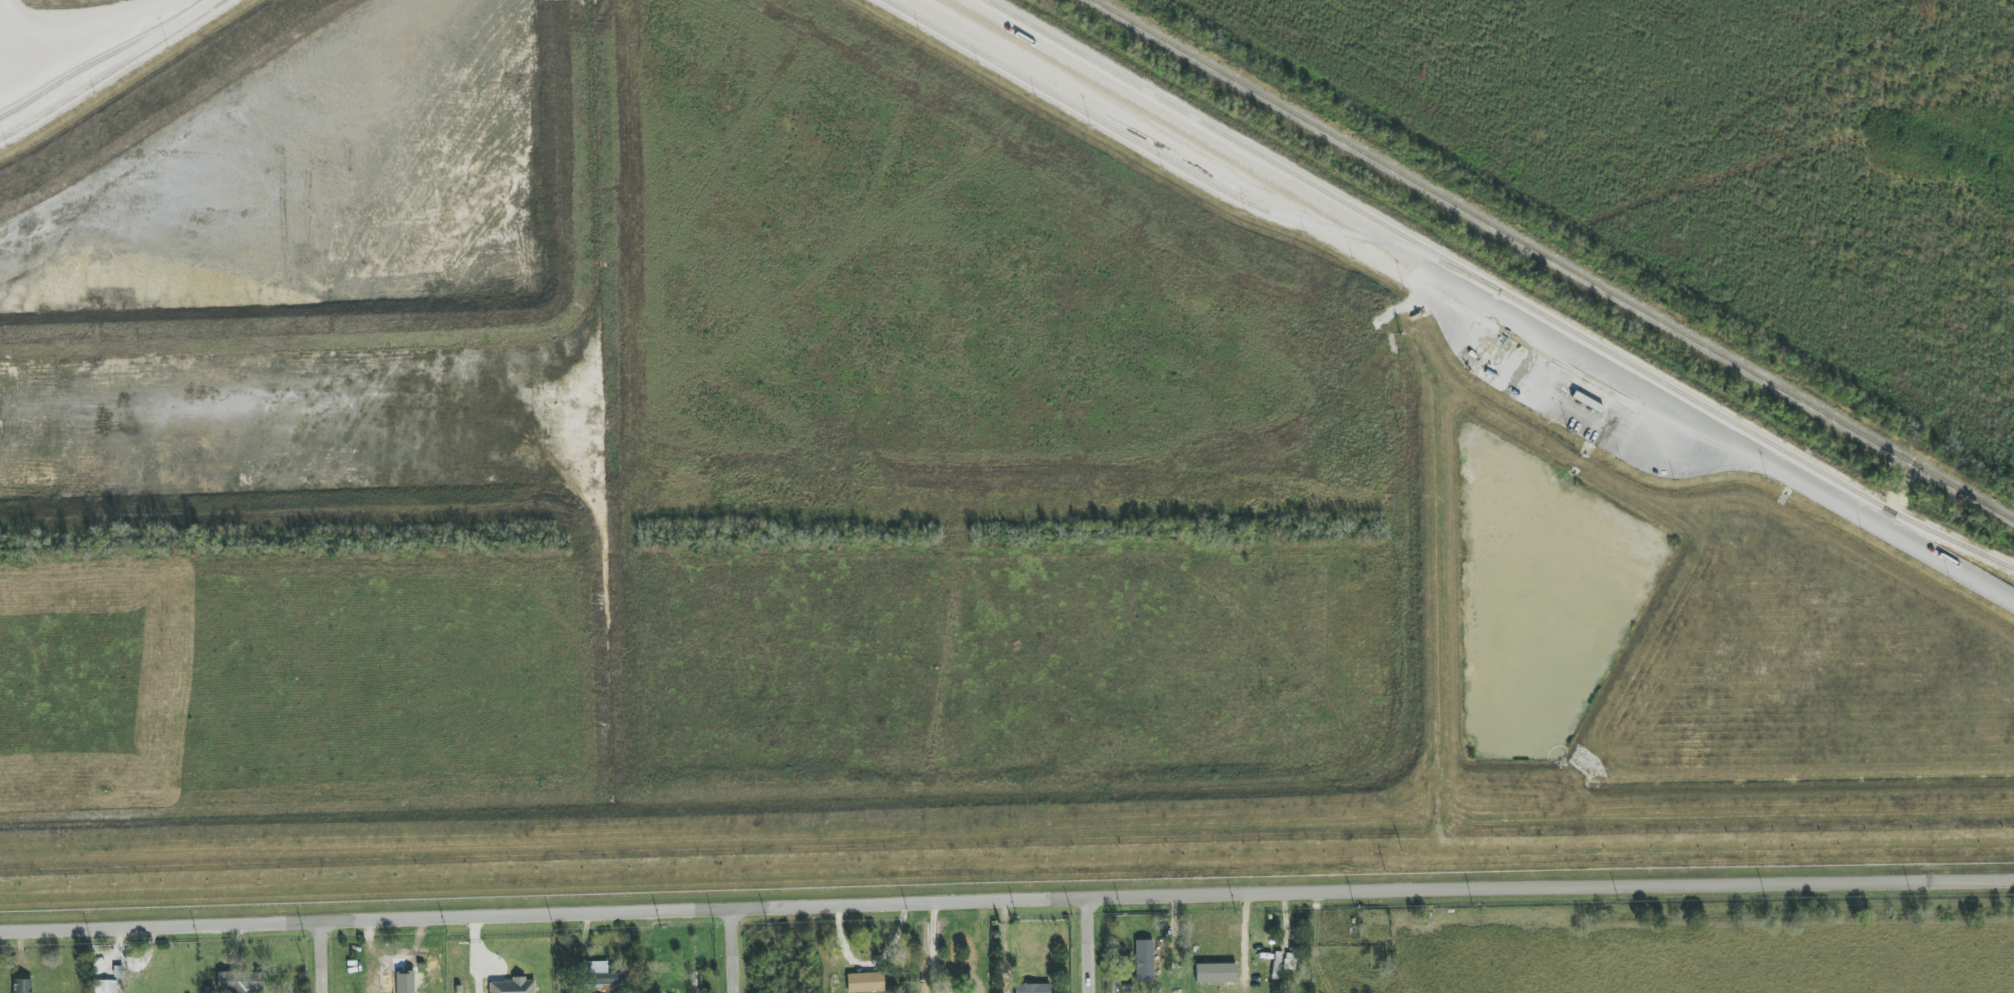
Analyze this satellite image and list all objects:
railway: (1554, 259)
road: (1476, 298)
road: (1006, 895)
road: (1092, 943)
road: (932, 946)
road: (739, 948)
road: (326, 955)
building: (1144, 961)
building: (600, 974)
building: (239, 982)
building: (864, 982)
building: (396, 983)
building: (21, 986)
building: (512, 986)
building: (109, 987)
building: (1032, 988)

